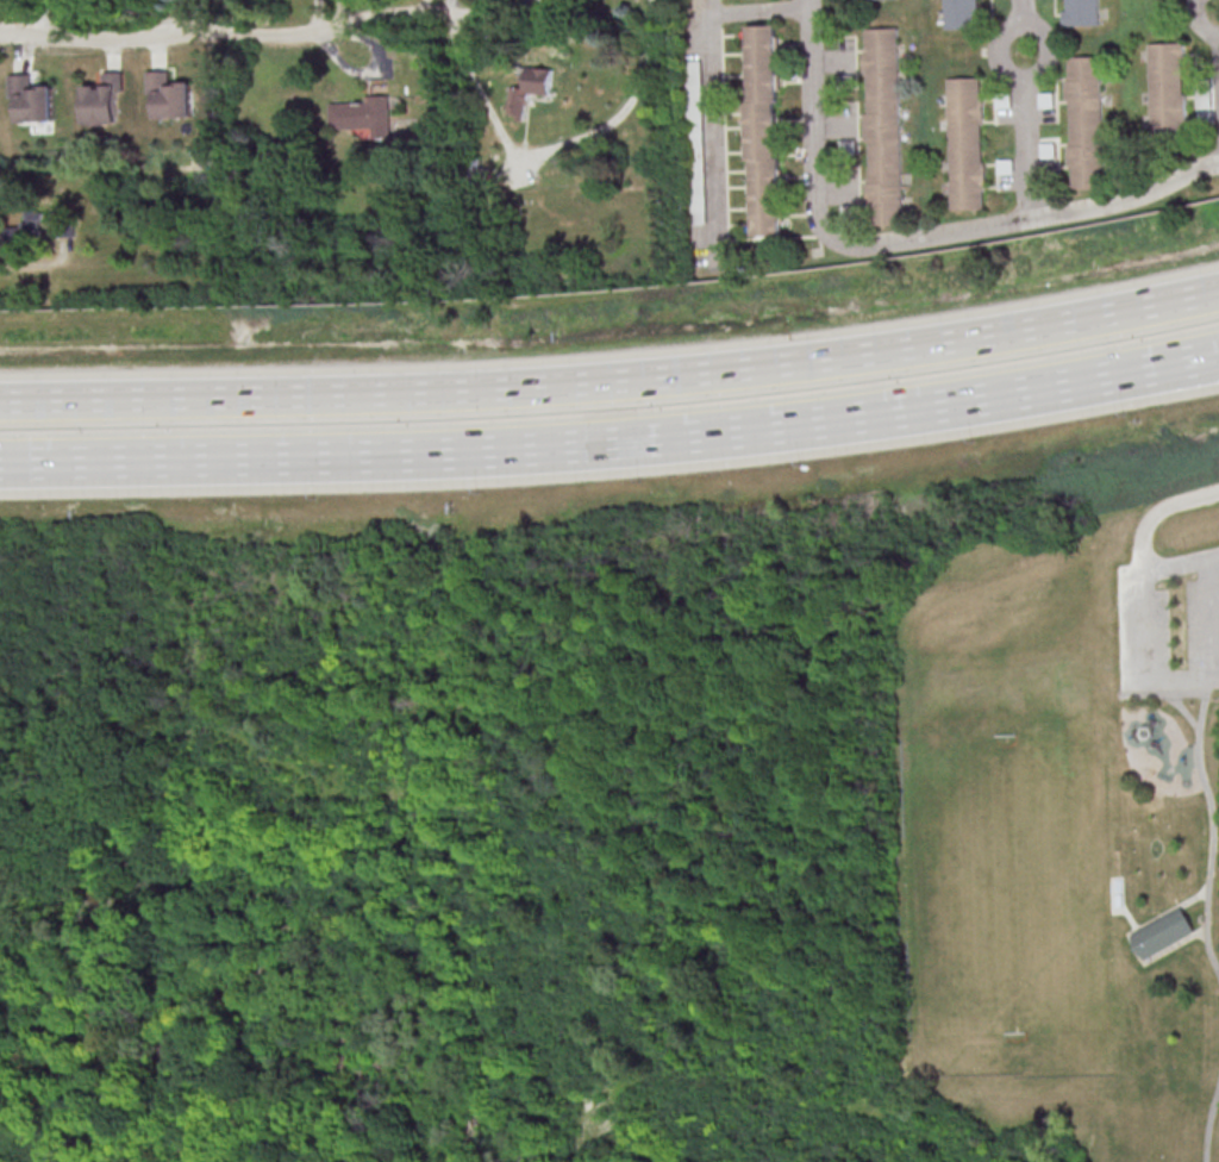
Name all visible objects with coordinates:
road: (757, 8)
building: (1082, 12)
building: (962, 13)
road: (268, 36)
building: (1169, 87)
building: (529, 88)
road: (477, 89)
building: (170, 94)
building: (32, 98)
building: (104, 99)
road: (625, 108)
road: (1027, 108)
building: (1087, 120)
building: (883, 124)
road: (714, 127)
building: (764, 129)
building: (967, 142)
building: (40, 221)
road: (909, 238)
road: (33, 264)
road: (1169, 364)
road: (1169, 368)
road: (612, 380)
road: (562, 446)
road: (1158, 513)
road: (1180, 562)
road: (1209, 617)
parking lot: (1168, 623)
road: (1145, 663)
road: (1163, 694)
road: (1180, 706)
park: (1062, 821)
road: (1213, 824)
road: (504, 826)
park: (1008, 886)
road: (1113, 908)
building: (1163, 935)
road: (1130, 939)
river: (243, 1000)
road: (608, 1048)
road: (615, 1080)
road: (1209, 1125)

